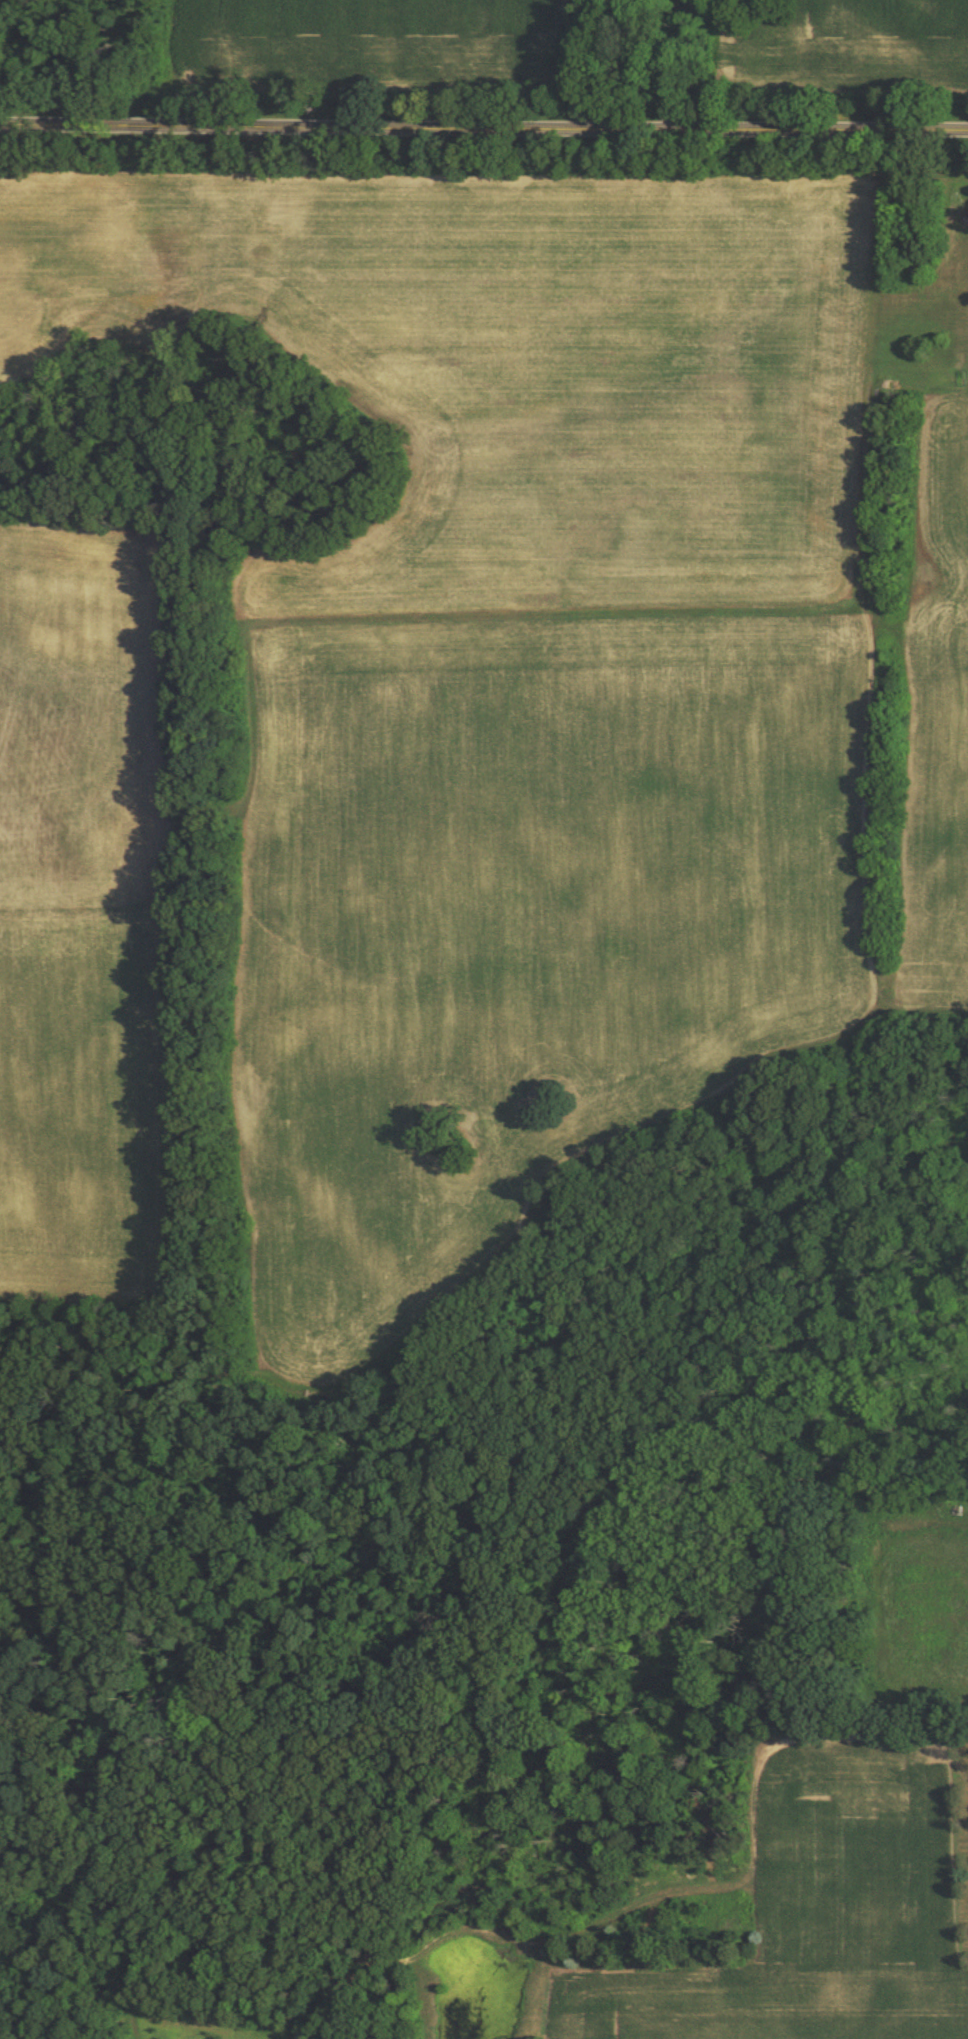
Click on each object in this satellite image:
road: (484, 124)

